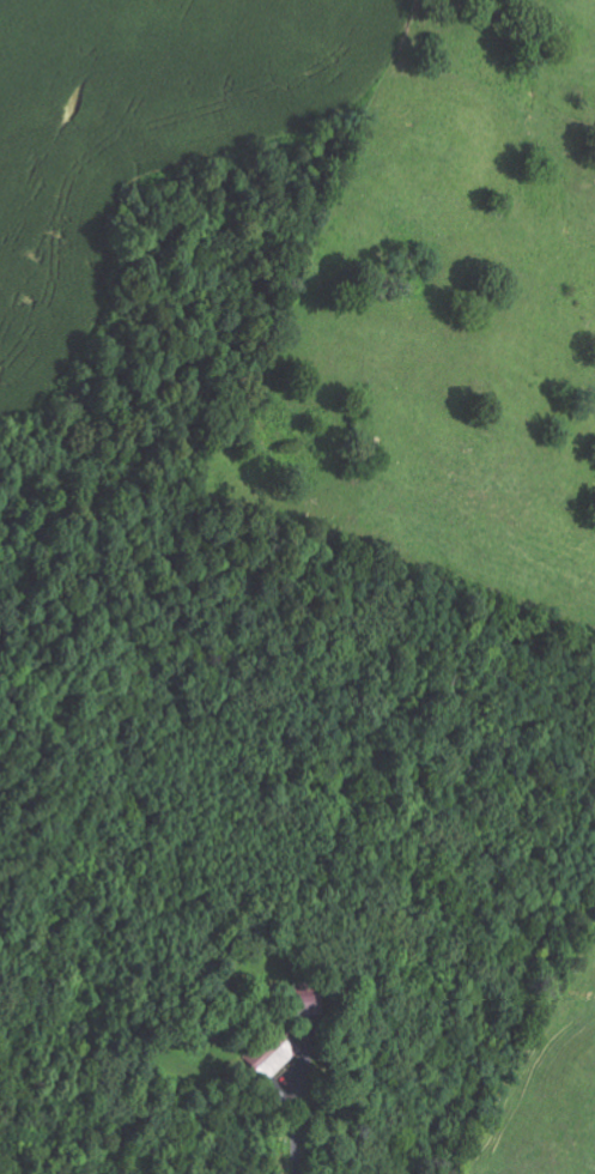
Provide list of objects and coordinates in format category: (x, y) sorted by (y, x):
building: (280, 1057)

